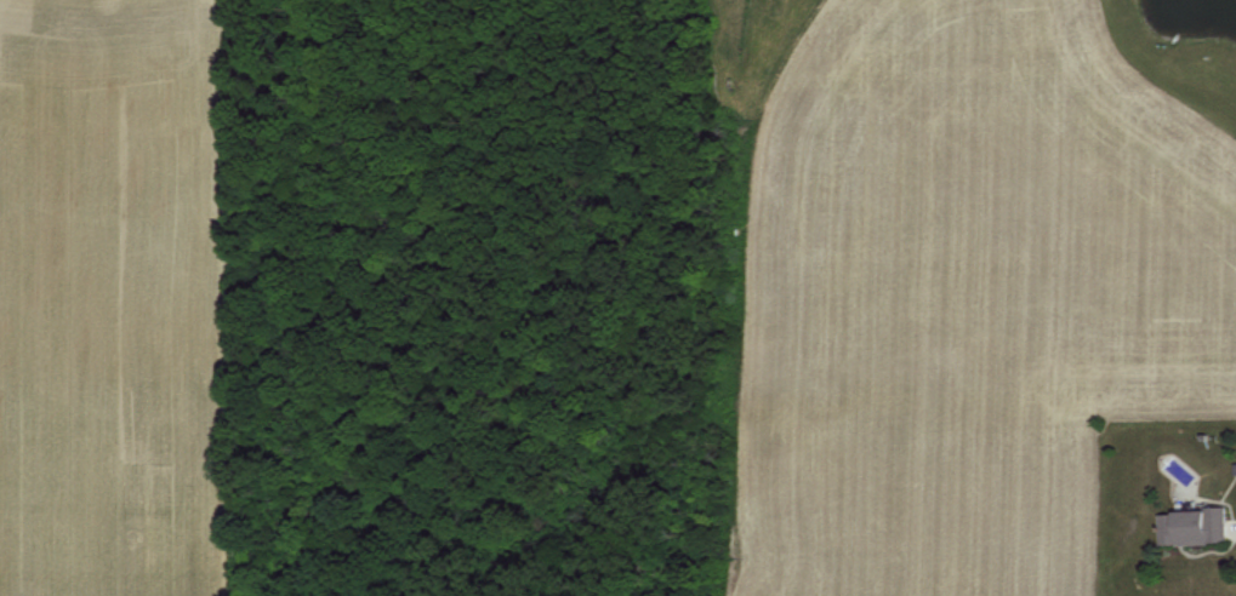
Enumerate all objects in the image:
building: (1194, 523)

